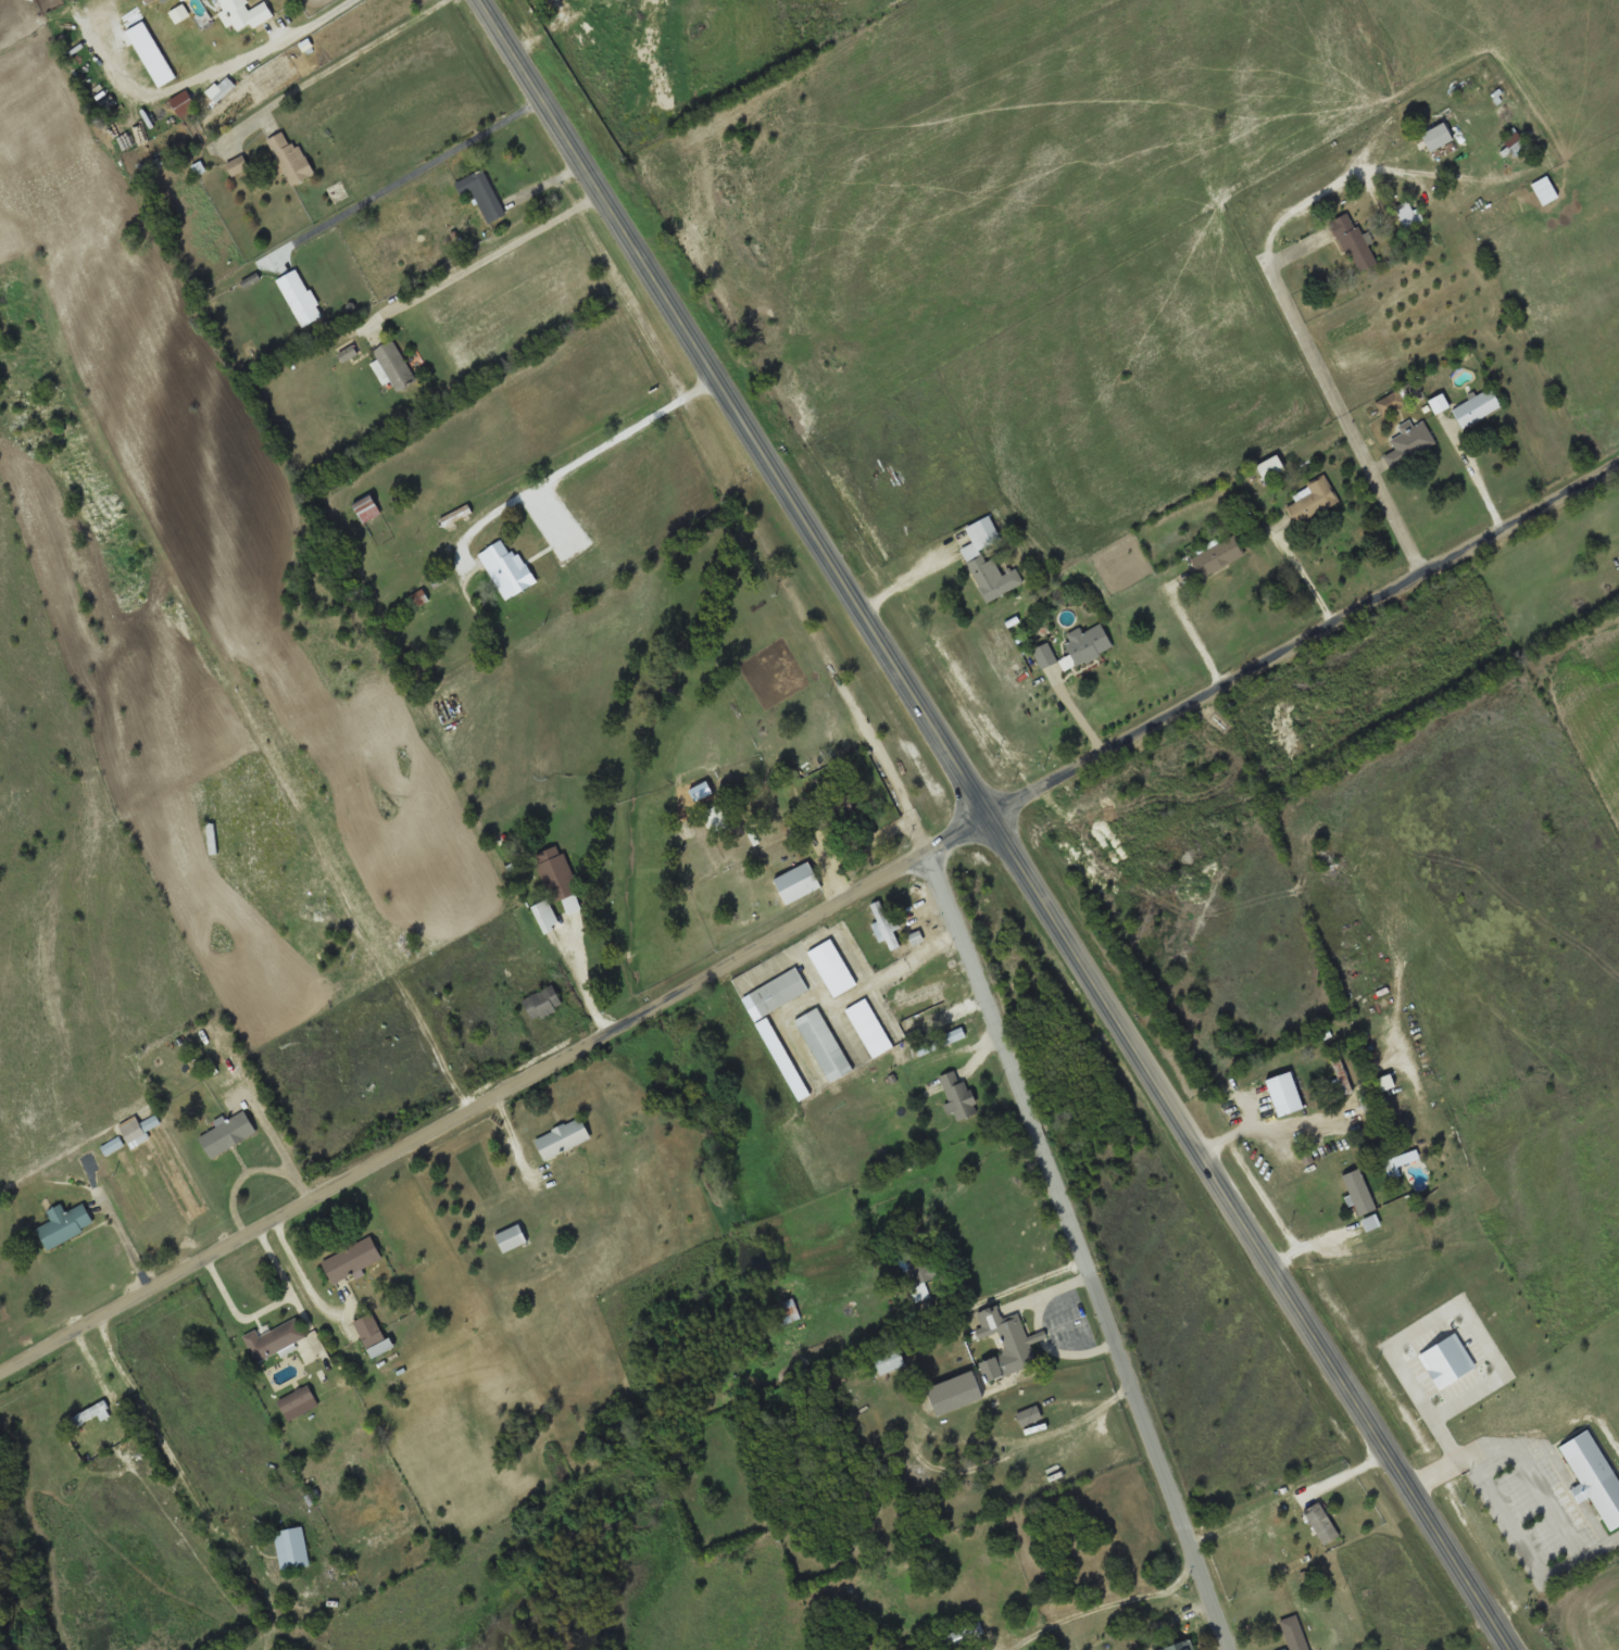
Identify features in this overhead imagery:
building: (587, 4)
building: (247, 14)
road: (316, 21)
building: (1440, 138)
building: (1518, 146)
building: (292, 160)
building: (239, 166)
building: (487, 198)
building: (1356, 243)
building: (301, 299)
building: (394, 366)
building: (1392, 404)
building: (1441, 404)
building: (1479, 408)
road: (1344, 417)
building: (1411, 443)
building: (1273, 469)
building: (1314, 501)
building: (368, 509)
building: (1220, 557)
building: (987, 561)
building: (511, 568)
building: (1090, 644)
building: (1046, 657)
building: (716, 819)
road: (989, 832)
building: (557, 872)
building: (805, 880)
building: (550, 920)
building: (888, 925)
road: (814, 931)
building: (834, 967)
building: (781, 992)
building: (917, 996)
building: (544, 1002)
building: (871, 1028)
building: (943, 1041)
building: (826, 1044)
building: (1342, 1070)
building: (961, 1097)
building: (138, 1130)
building: (229, 1134)
building: (564, 1138)
building: (113, 1147)
building: (1363, 1192)
building: (66, 1224)
building: (513, 1238)
road: (1083, 1258)
building: (354, 1260)
building: (917, 1261)
road: (1007, 1293)
building: (786, 1312)
building: (374, 1334)
building: (276, 1339)
building: (1007, 1344)
building: (890, 1361)
building: (957, 1393)
building: (299, 1402)
building: (92, 1414)
building: (1031, 1415)
building: (1323, 1523)
building: (293, 1548)
building: (1295, 1634)
building: (964, 1636)
building: (1183, 1646)

